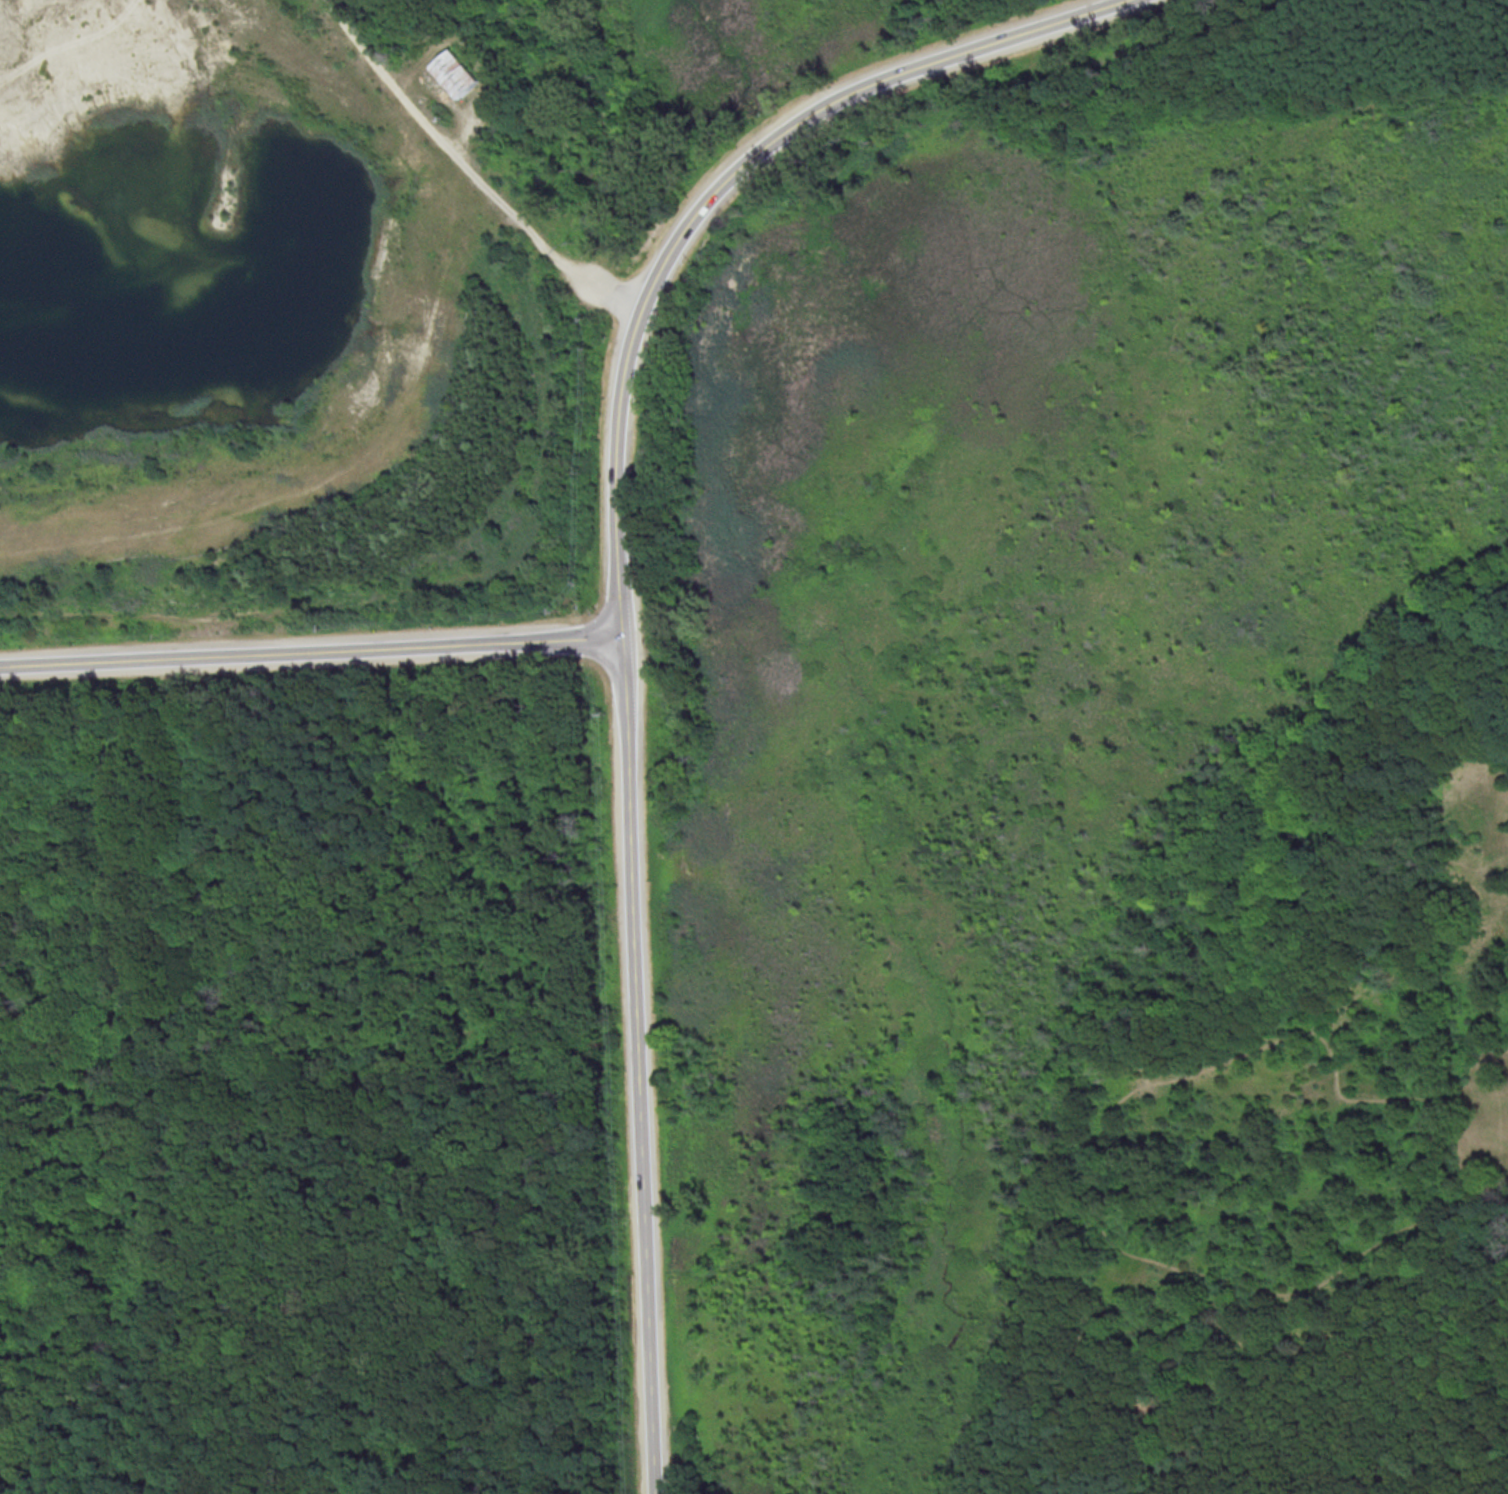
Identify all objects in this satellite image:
building: (456, 75)
road: (472, 169)
road: (713, 199)
road: (311, 653)
park: (854, 838)
road: (637, 1067)
road: (1184, 1077)
road: (1489, 1166)
road: (1230, 1325)

